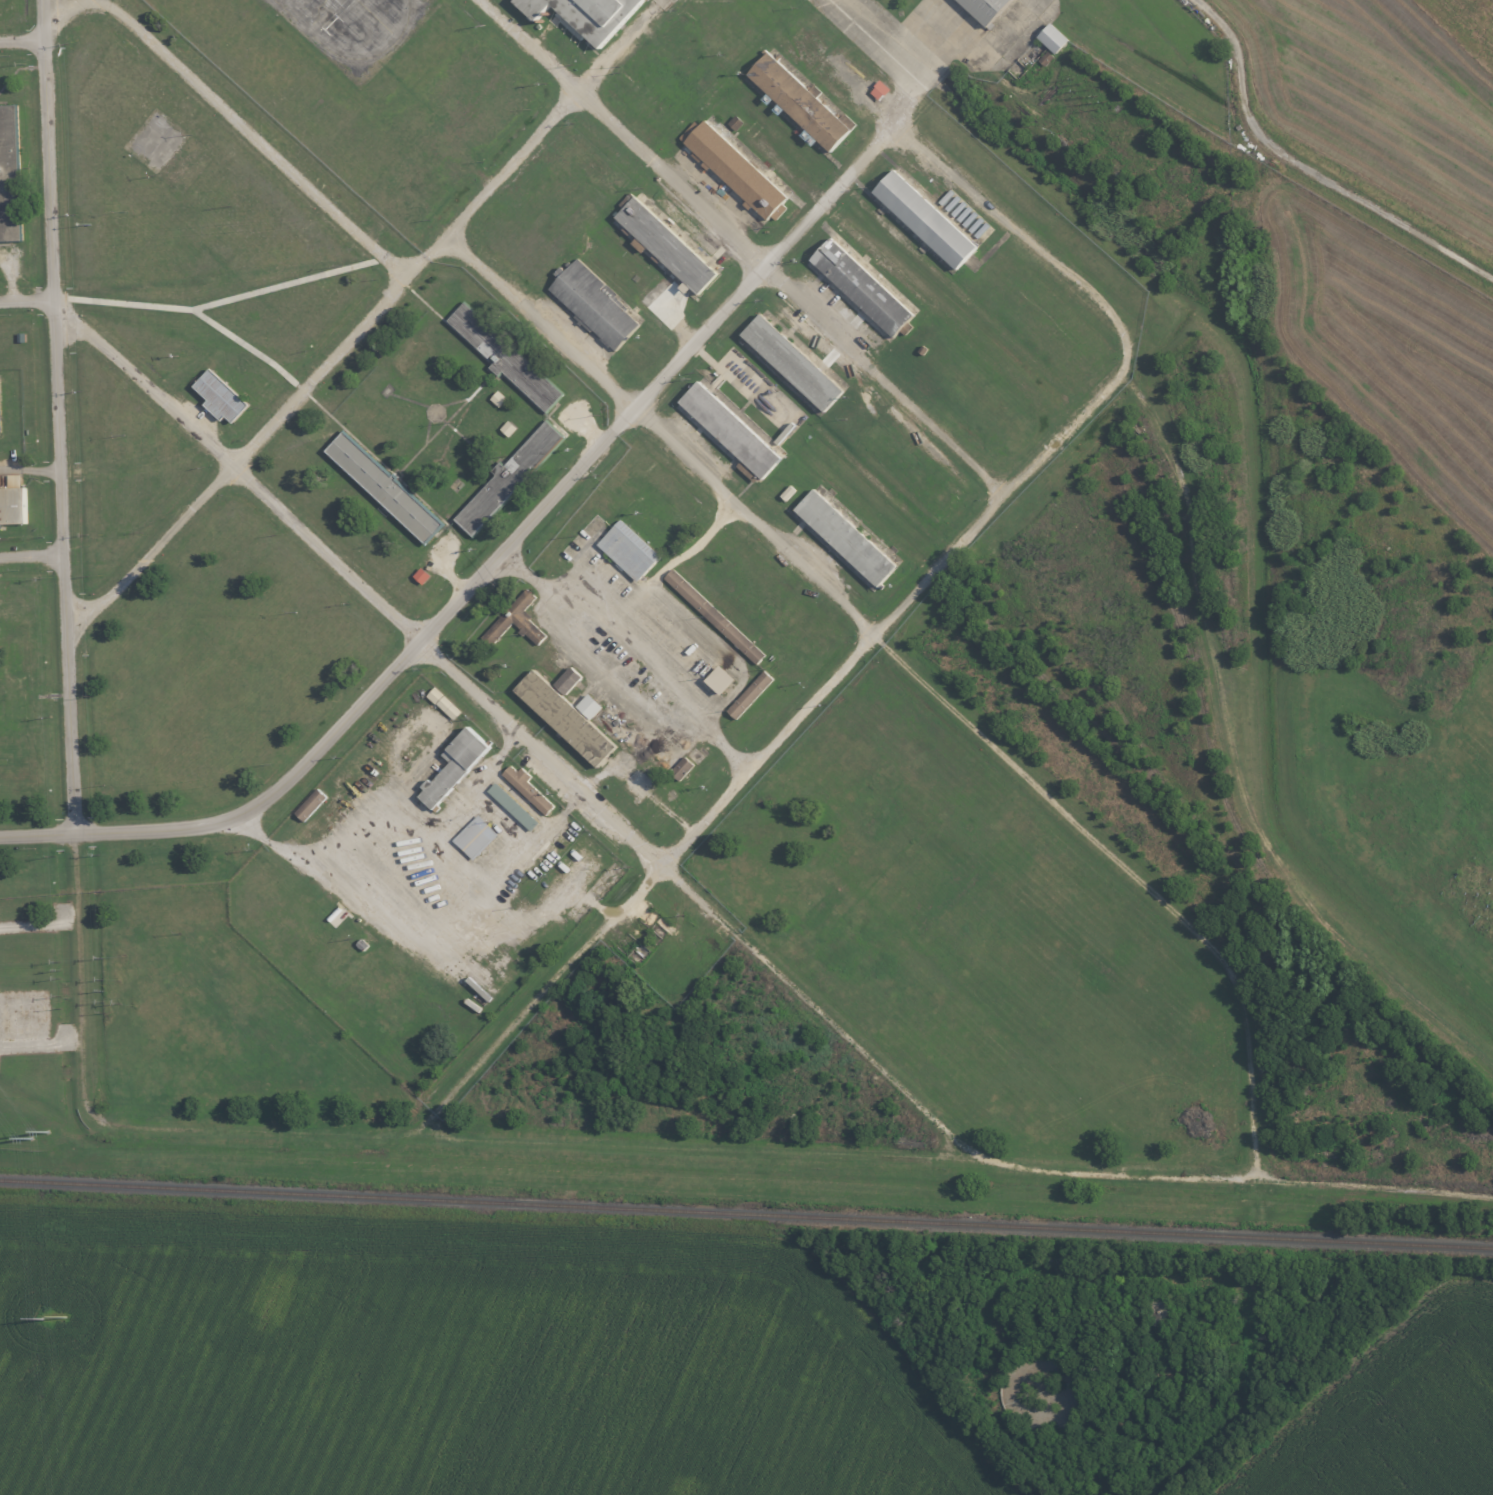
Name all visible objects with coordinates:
building: (985, 9)
airport hangar: (587, 14)
building: (587, 14)
road: (50, 37)
road: (872, 37)
building: (1053, 39)
road: (954, 42)
road: (529, 45)
building: (883, 89)
building: (800, 103)
road: (257, 137)
road: (50, 148)
road: (1309, 168)
building: (736, 170)
building: (9, 176)
road: (672, 178)
road: (494, 185)
building: (926, 220)
airport: (1376, 222)
road: (1019, 234)
building: (666, 246)
building: (862, 288)
road: (28, 299)
road: (225, 301)
building: (596, 305)
road: (545, 322)
road: (703, 336)
road: (249, 349)
road: (118, 356)
building: (504, 358)
building: (792, 363)
road: (323, 371)
road: (885, 378)
building: (220, 398)
building: (501, 398)
building: (730, 431)
road: (30, 471)
building: (508, 480)
building: (1, 481)
building: (385, 488)
building: (13, 502)
building: (846, 539)
road: (155, 551)
building: (629, 552)
road: (32, 556)
road: (64, 564)
building: (425, 575)
building: (714, 618)
building: (516, 623)
road: (388, 679)
building: (724, 680)
building: (568, 682)
building: (750, 696)
road: (941, 696)
building: (447, 703)
building: (589, 708)
building: (566, 720)
building: (456, 769)
building: (681, 771)
road: (585, 788)
building: (526, 790)
building: (512, 807)
building: (311, 809)
road: (700, 825)
road: (37, 833)
building: (478, 836)
road: (1256, 1080)
power tower: (47, 1131)
power tower: (30, 1138)
road: (649, 1149)
railway: (746, 1213)
road: (1136, 1279)
power tower: (64, 1316)
power tower: (41, 1319)

